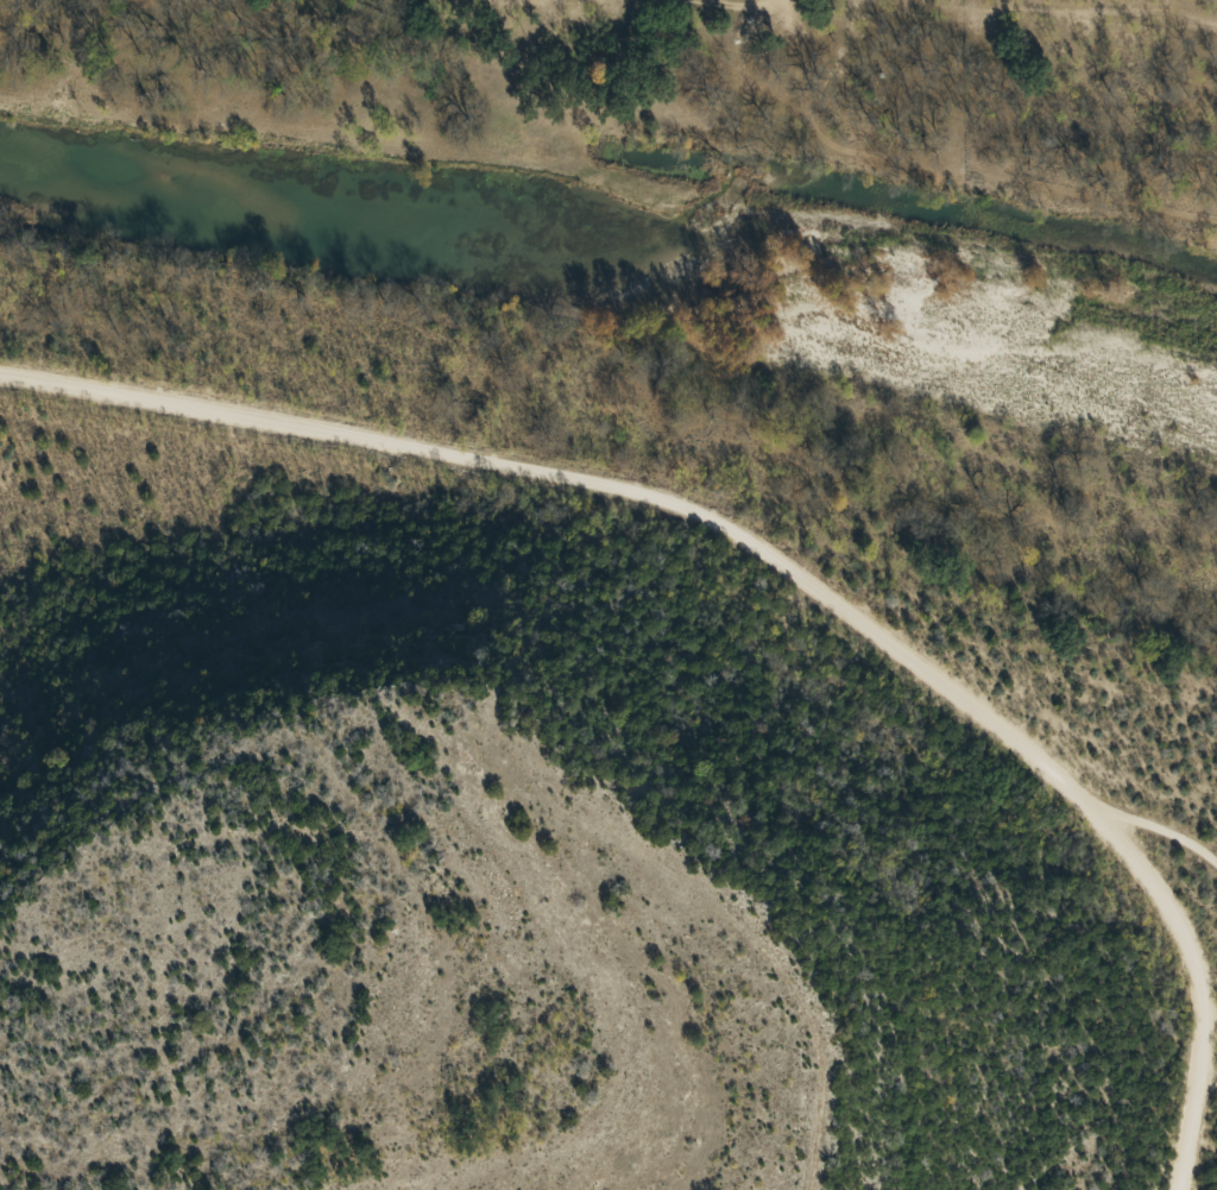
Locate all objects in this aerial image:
road: (788, 11)
river: (611, 212)
road: (773, 565)
road: (1174, 918)

